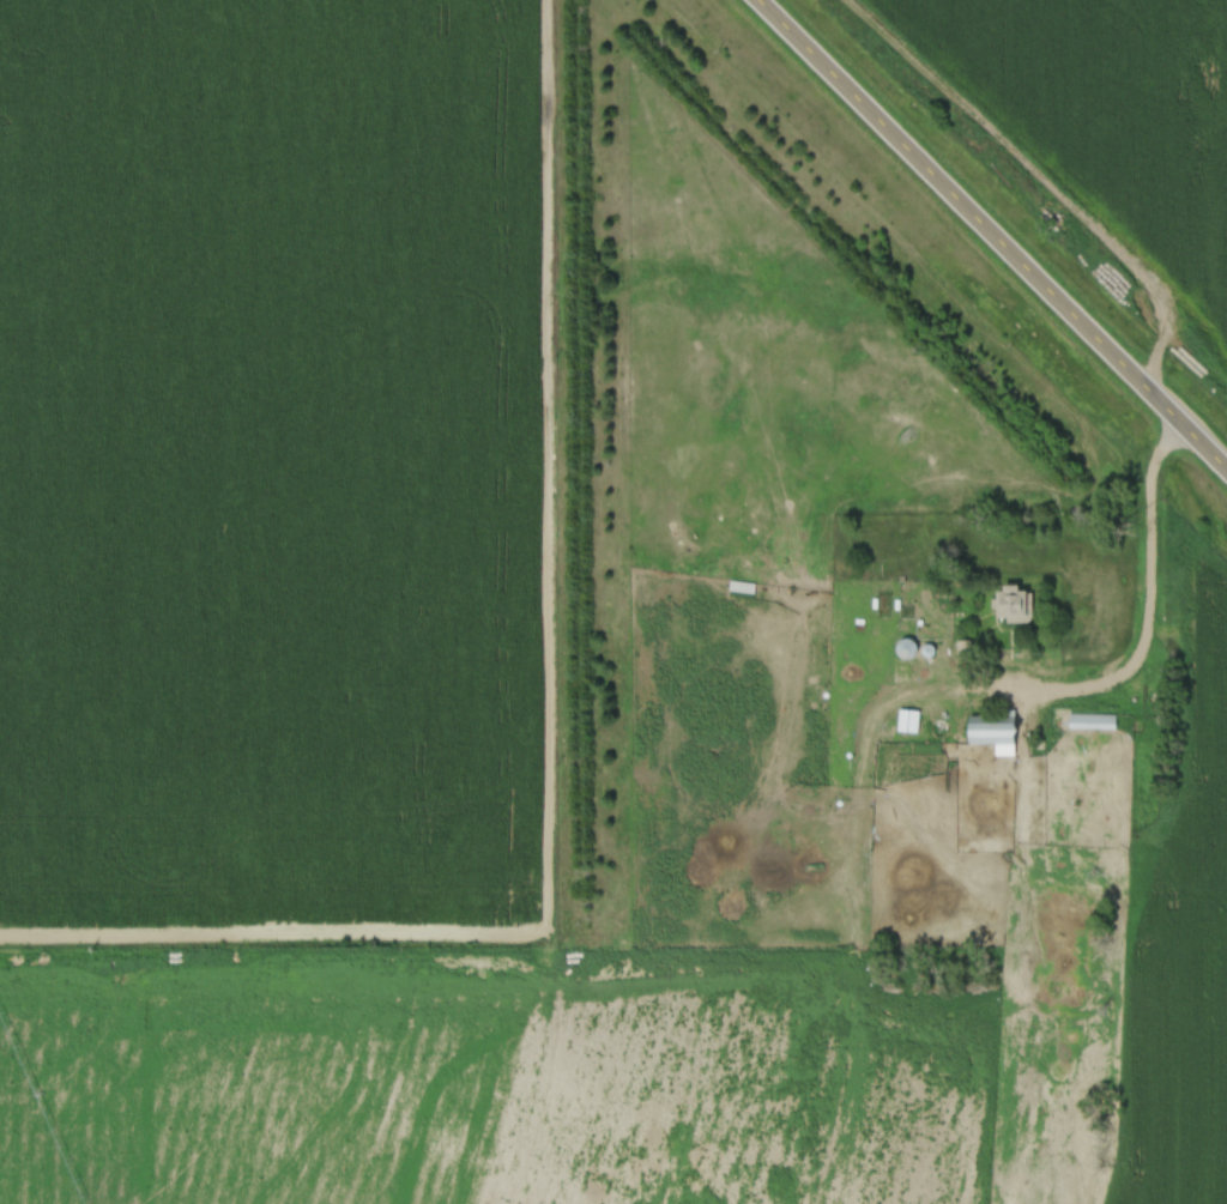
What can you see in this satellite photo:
road: (995, 232)
building: (744, 587)
building: (1014, 605)
road: (1149, 613)
building: (903, 649)
building: (909, 721)
building: (1094, 721)
building: (992, 732)

